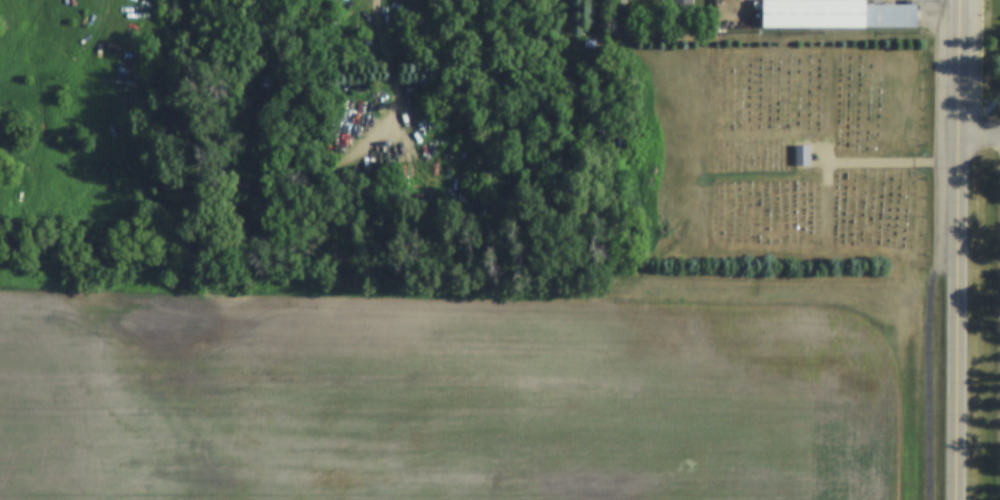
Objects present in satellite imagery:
building: (683, 4)
building: (756, 4)
building: (835, 14)
road: (391, 43)
road: (957, 66)
road: (981, 110)
road: (978, 134)
road: (828, 150)
park: (788, 151)
road: (825, 159)
road: (883, 163)
park: (995, 250)
road: (928, 295)
road: (955, 317)

